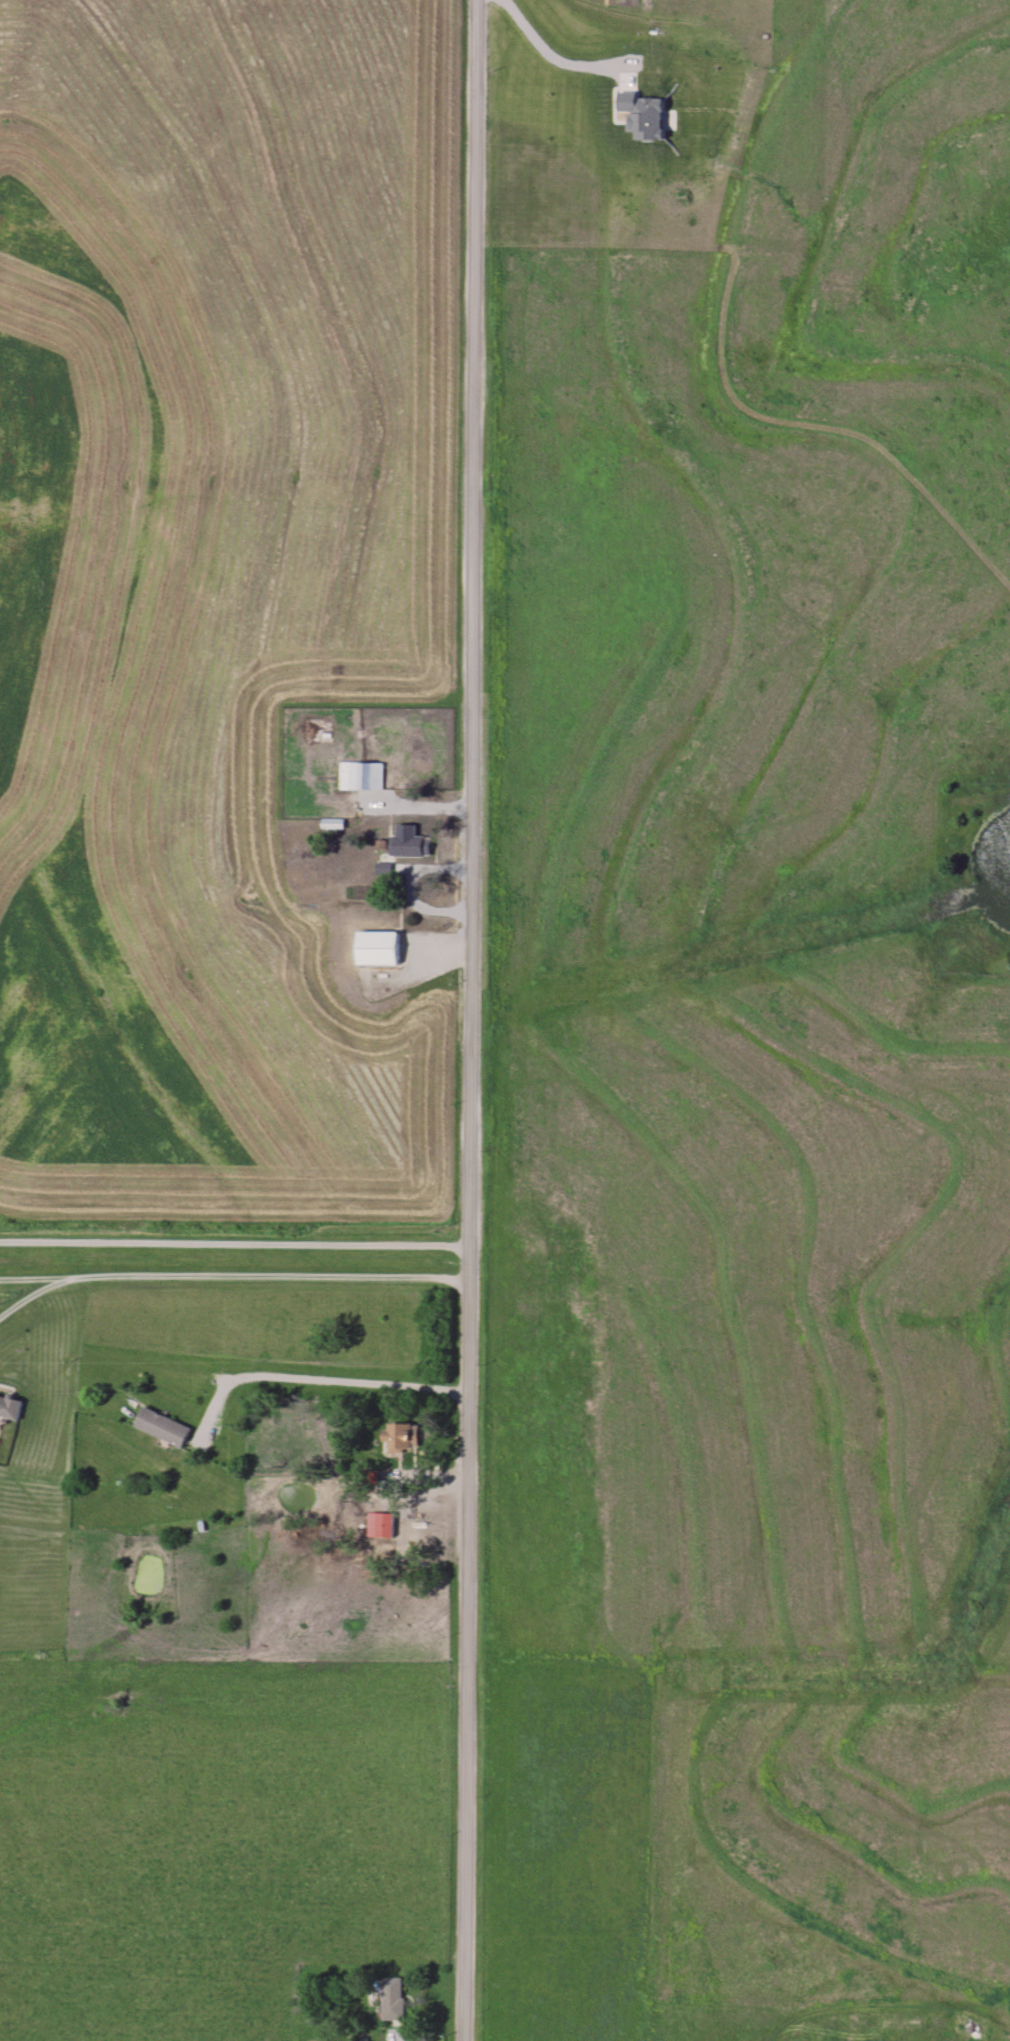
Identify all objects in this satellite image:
building: (362, 776)
building: (409, 846)
building: (377, 948)
road: (471, 1020)
road: (235, 1244)
road: (238, 1276)
road: (30, 1295)
road: (259, 1375)
building: (10, 1408)
building: (162, 1427)
building: (401, 1437)
building: (380, 1525)
building: (392, 2000)

